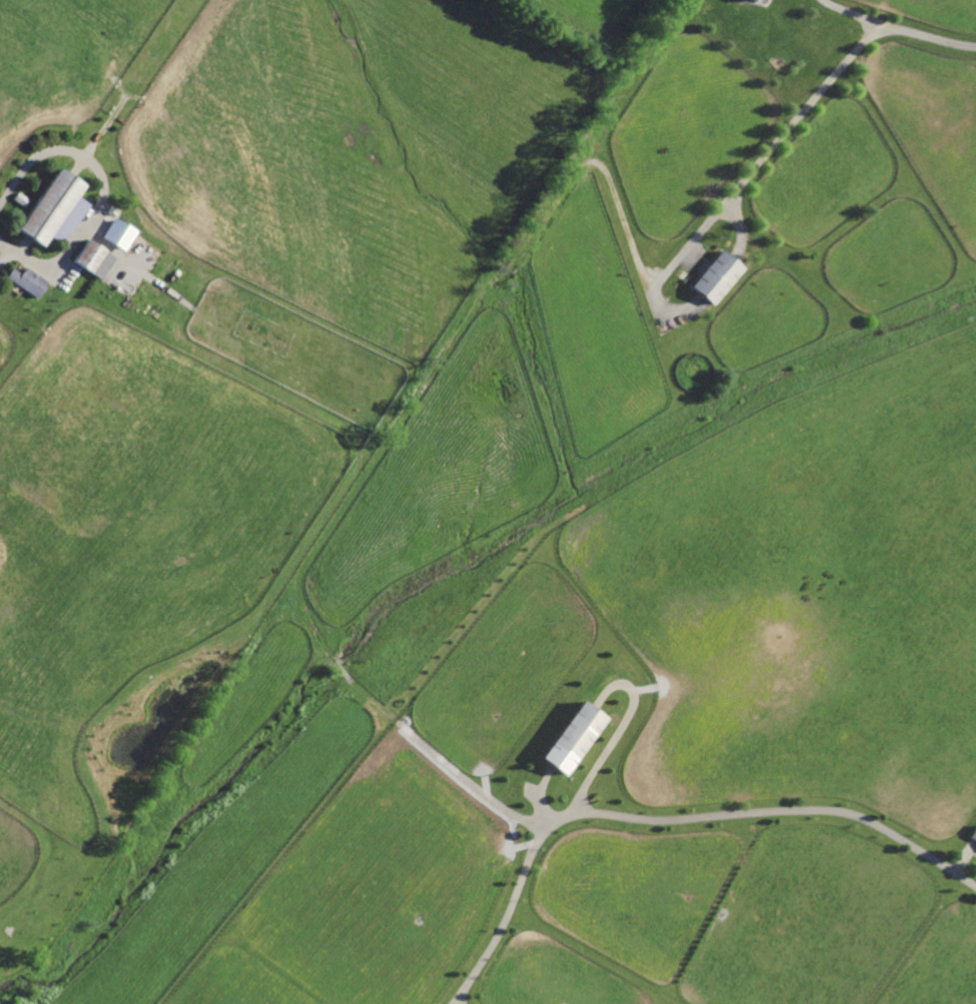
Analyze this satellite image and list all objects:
building: (759, 0)
road: (899, 28)
road: (767, 150)
road: (102, 188)
building: (19, 198)
building: (46, 206)
building: (116, 230)
road: (107, 244)
road: (5, 253)
building: (92, 258)
building: (715, 276)
building: (26, 280)
building: (571, 735)
road: (616, 737)
road: (666, 817)
building: (972, 833)

